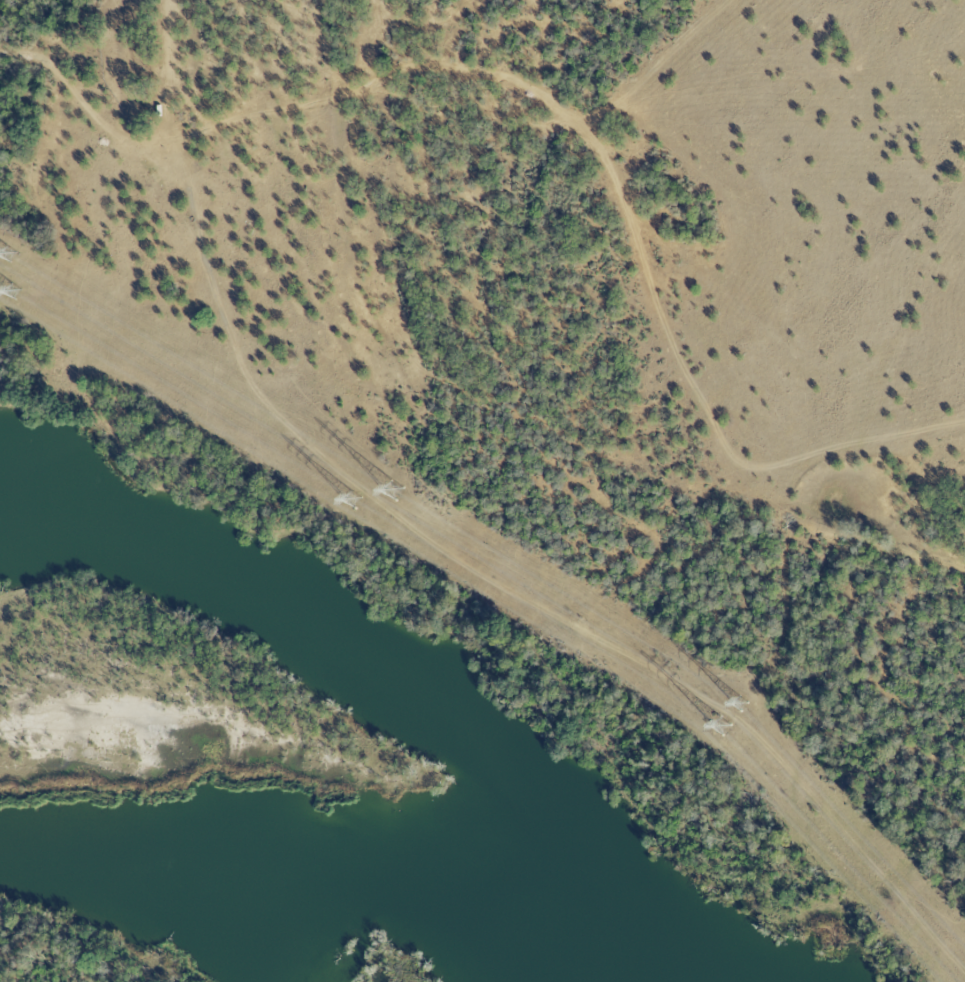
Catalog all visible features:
road: (129, 134)
power tower: (13, 258)
power tower: (21, 294)
power tower: (396, 494)
power tower: (363, 502)
power tower: (745, 706)
power tower: (732, 730)

